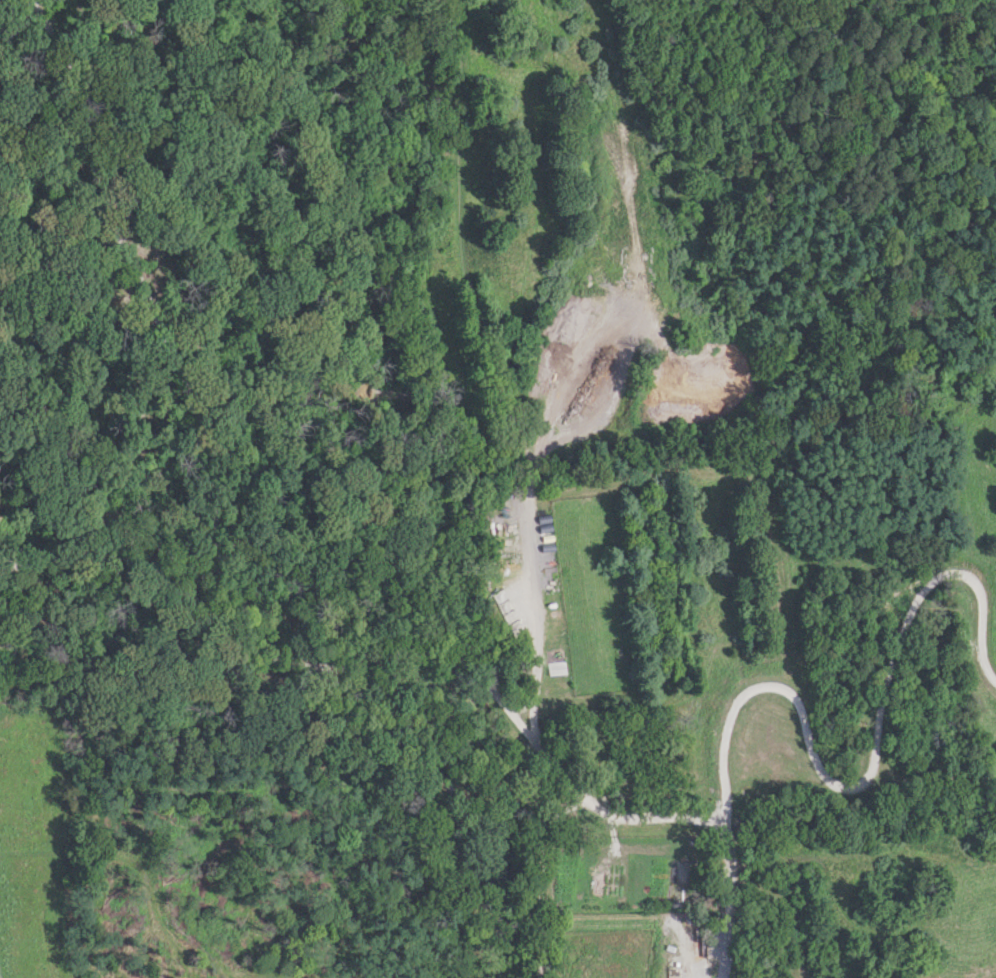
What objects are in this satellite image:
road: (460, 240)
road: (138, 291)
road: (533, 464)
park: (498, 489)
road: (118, 516)
road: (419, 652)
road: (819, 771)
road: (541, 870)
road: (727, 899)
road: (183, 961)

